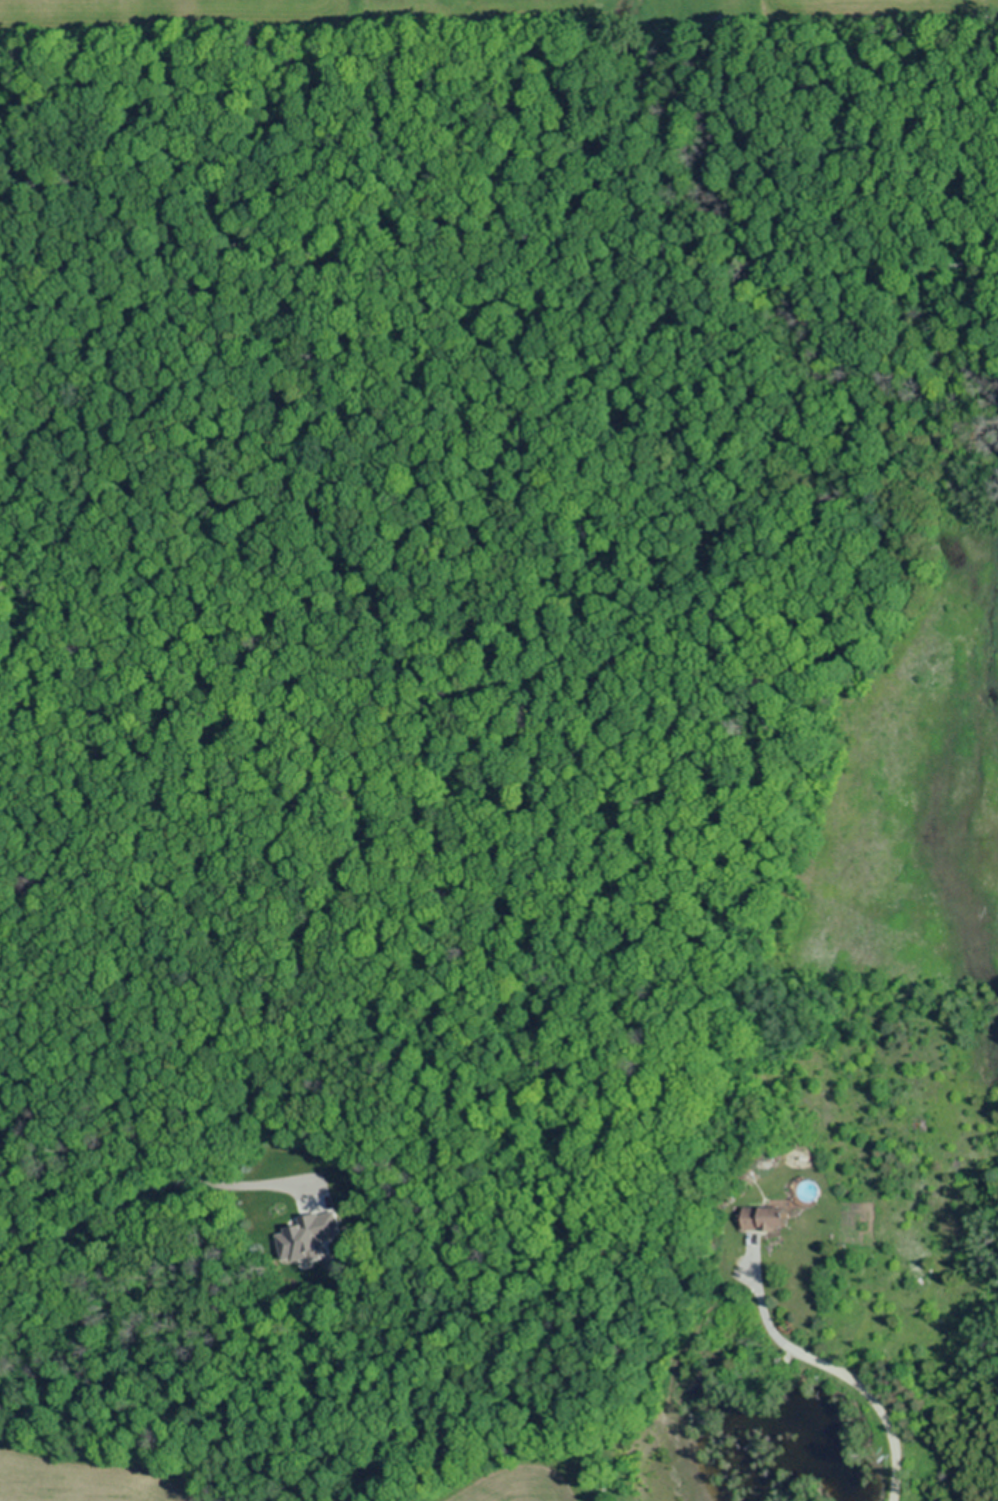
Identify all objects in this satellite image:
building: (767, 1217)

